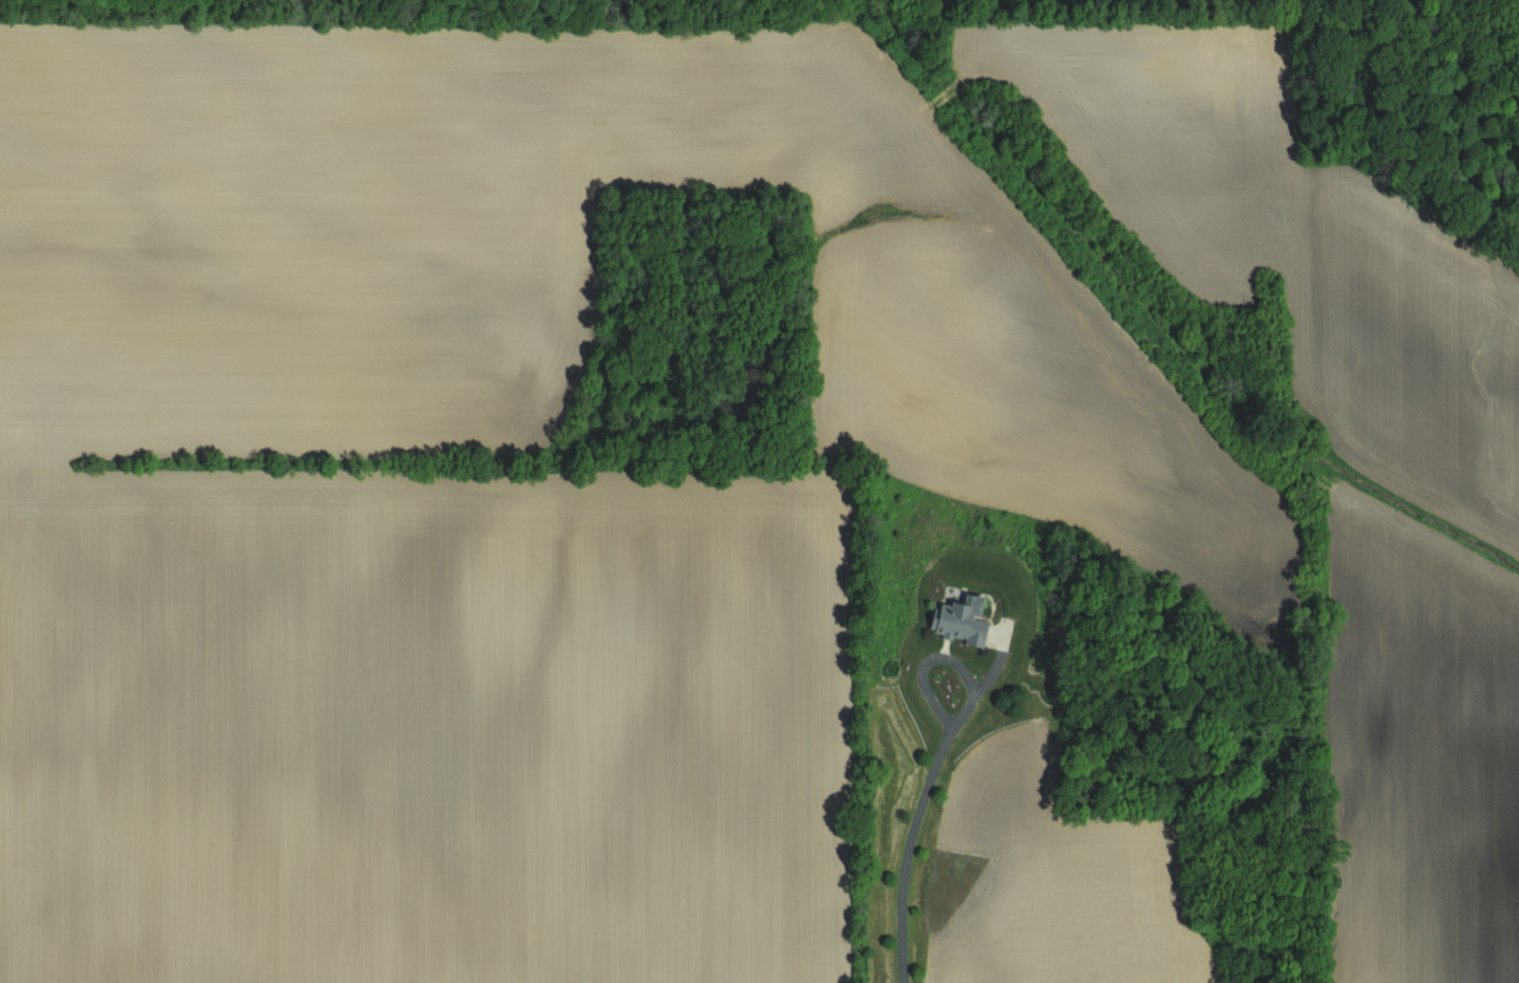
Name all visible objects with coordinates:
building: (961, 620)
road: (939, 660)
road: (903, 852)

